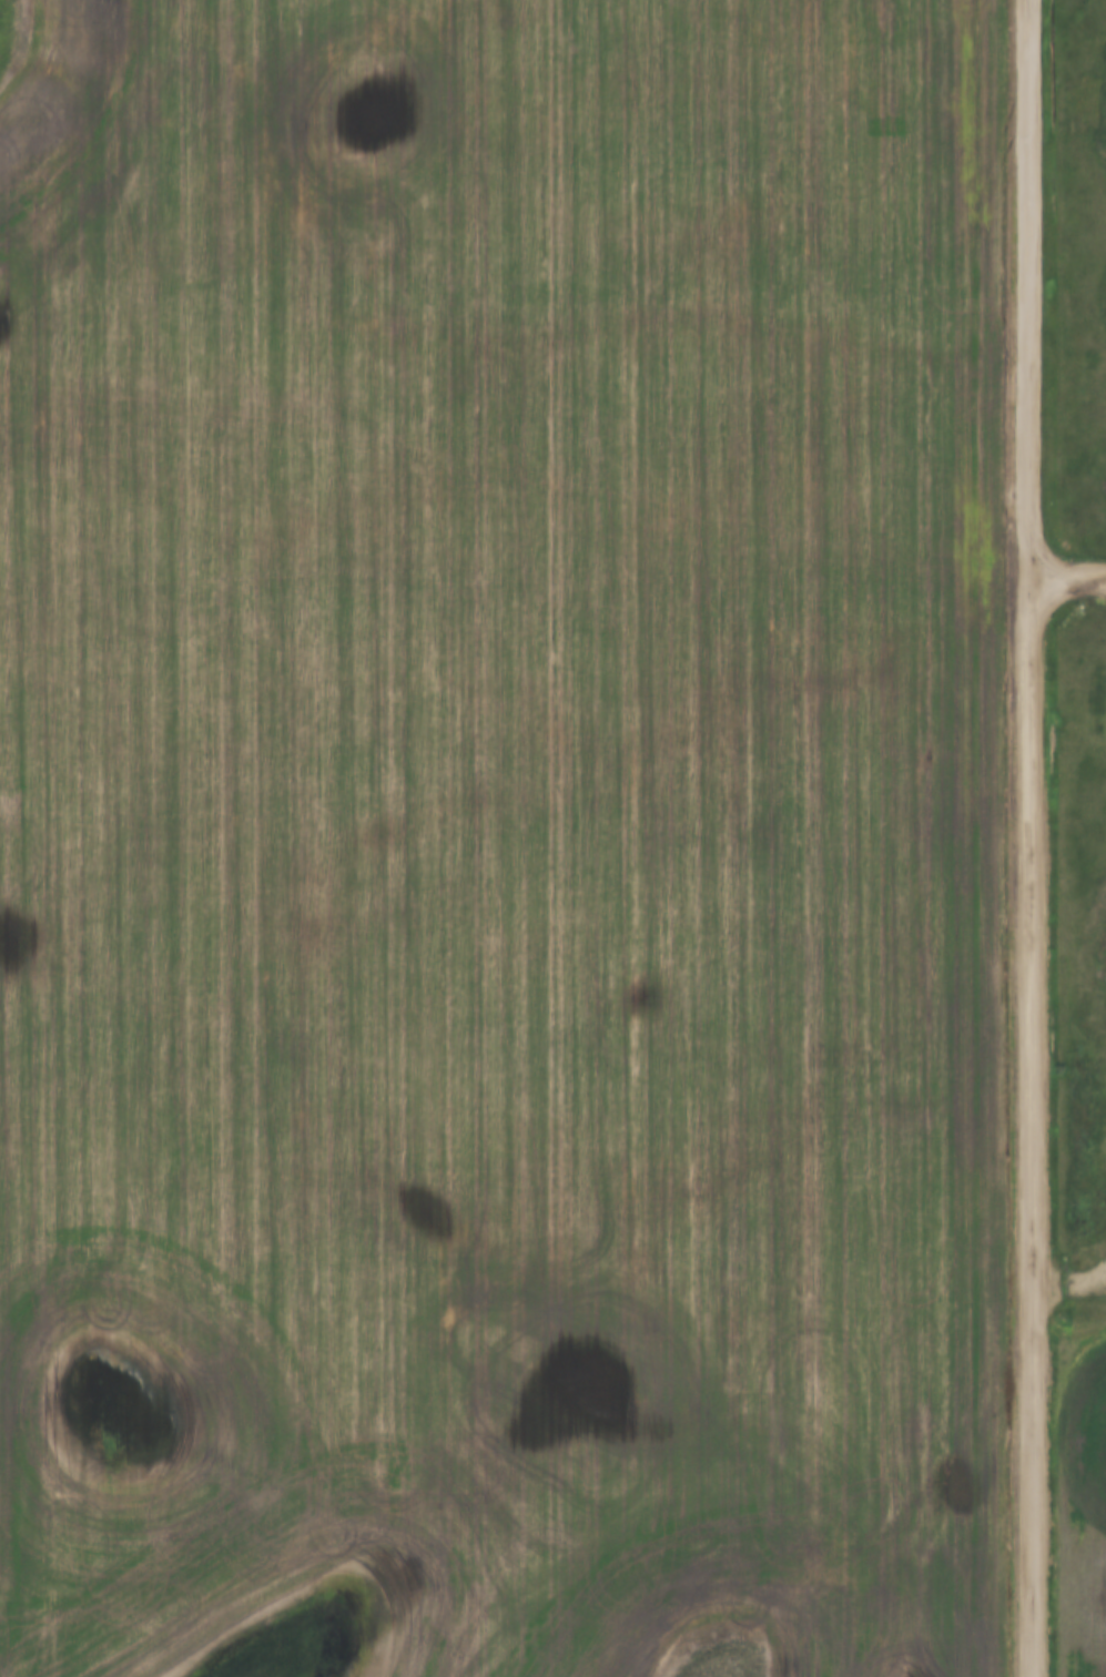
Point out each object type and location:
road: (1028, 837)

